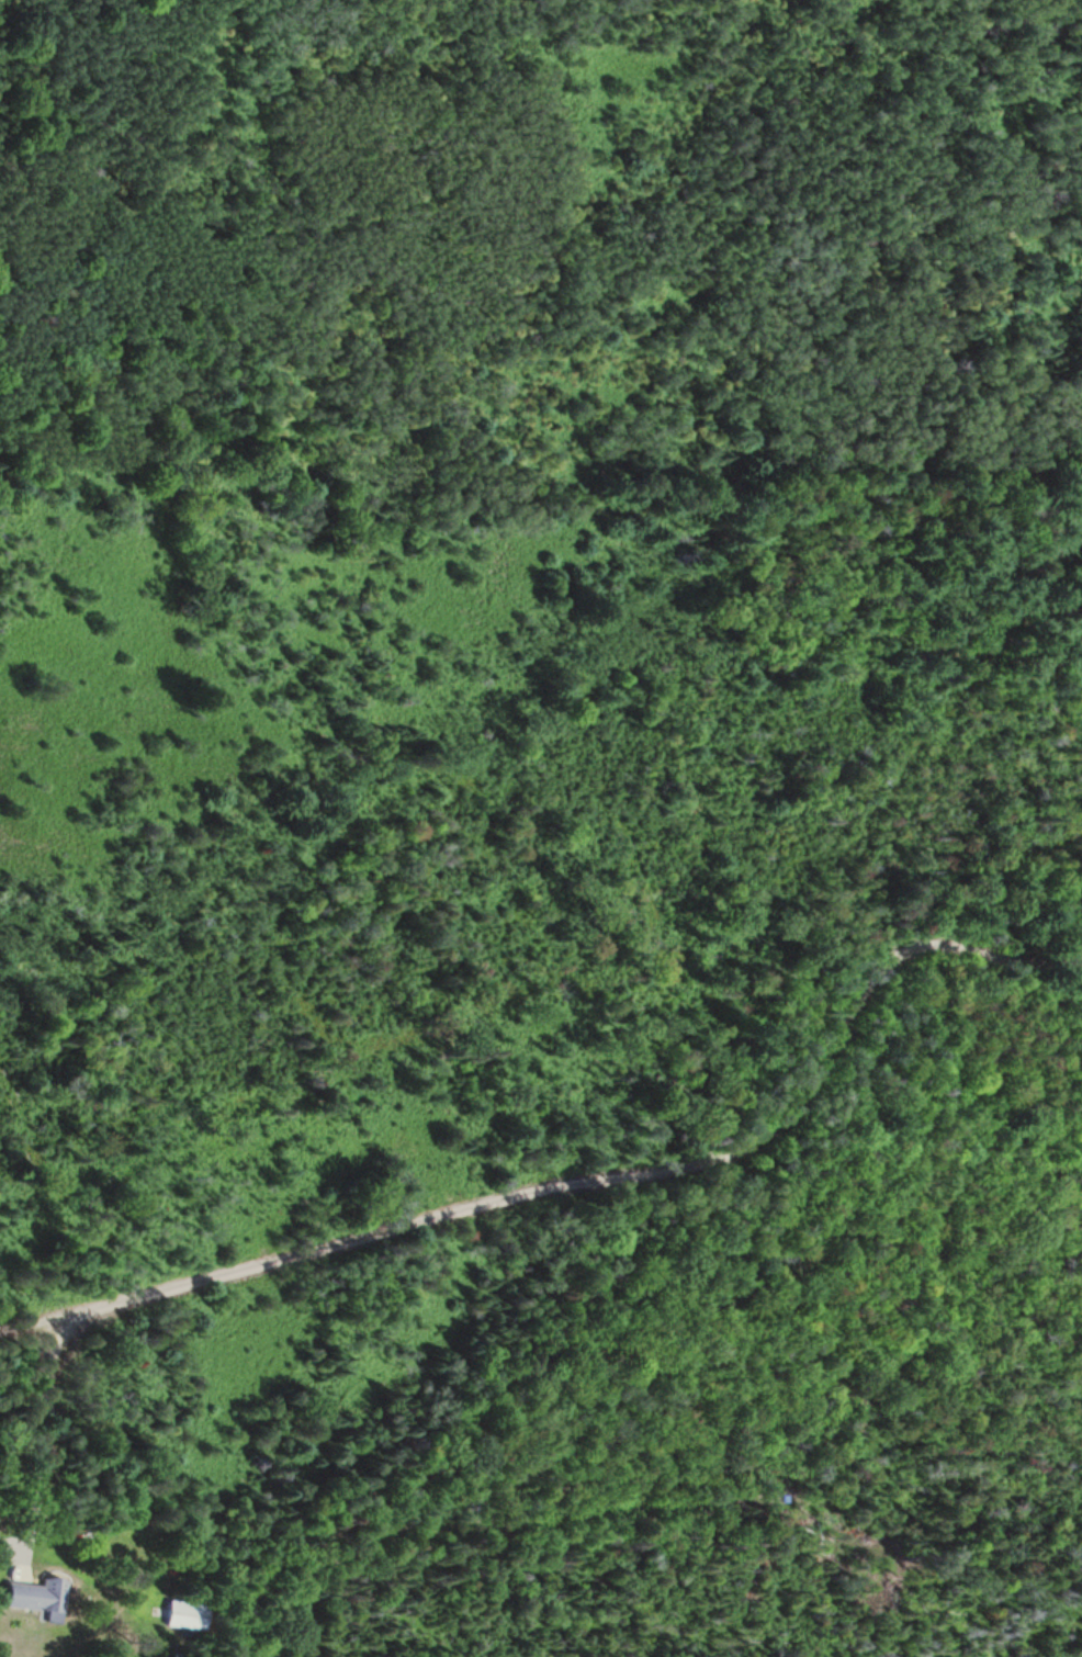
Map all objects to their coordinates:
road: (586, 1218)
building: (36, 1599)
building: (187, 1616)

